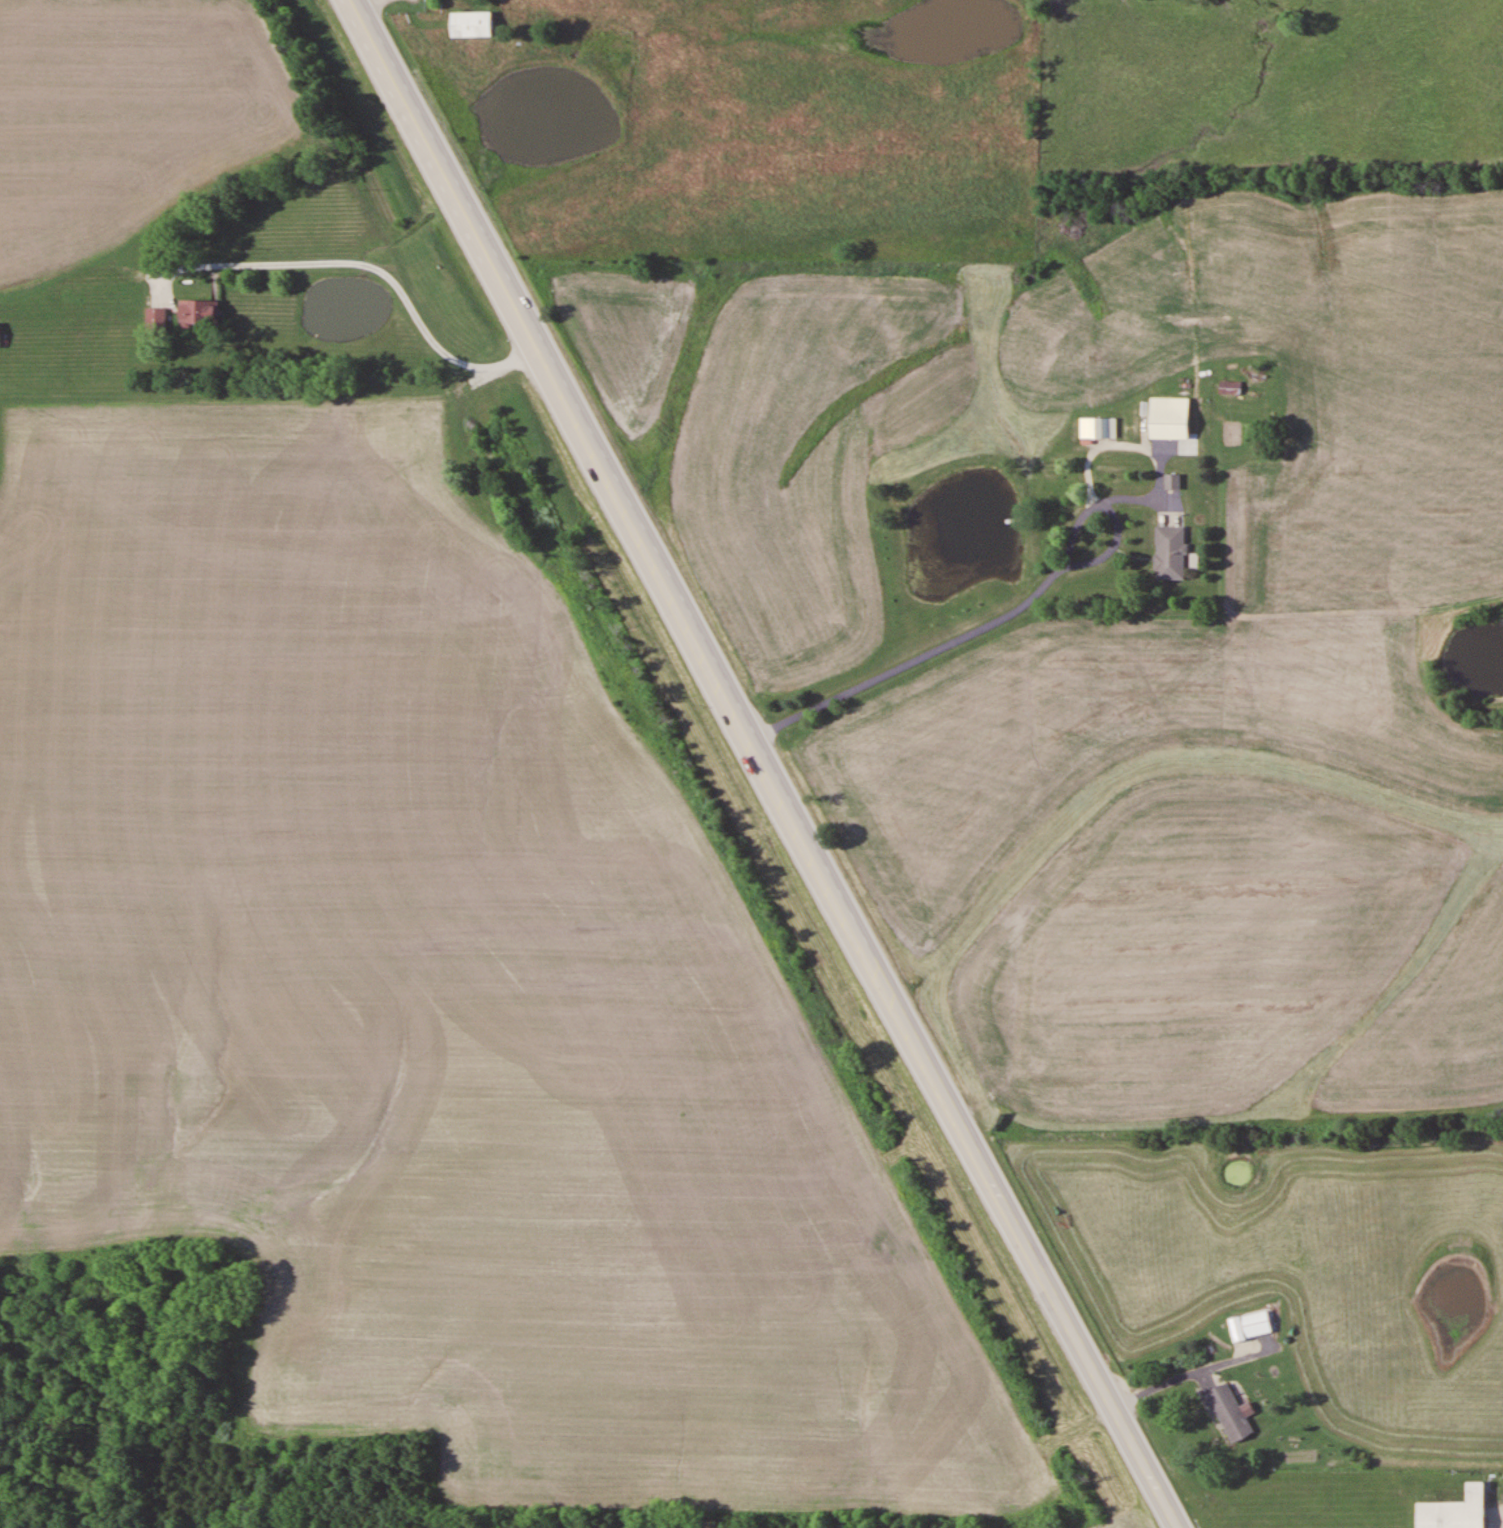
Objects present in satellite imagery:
building: (472, 24)
building: (200, 312)
building: (156, 317)
road: (531, 333)
building: (1230, 388)
building: (1170, 418)
building: (1098, 428)
building: (1173, 482)
building: (1170, 553)
road: (945, 1097)
building: (1256, 1323)
building: (1230, 1412)
building: (1455, 1510)

